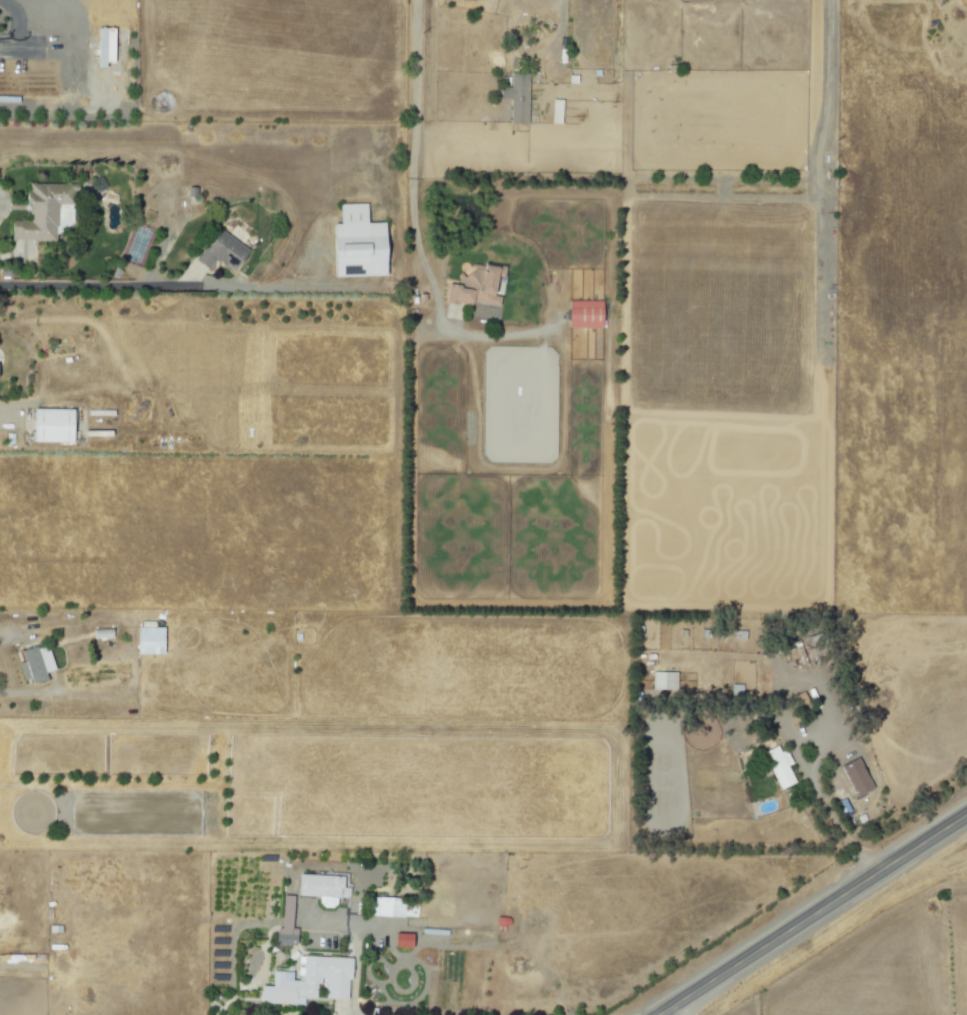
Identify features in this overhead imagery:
road: (555, 19)
road: (830, 23)
building: (103, 46)
road: (70, 56)
building: (515, 98)
building: (38, 212)
road: (413, 220)
building: (354, 243)
building: (219, 252)
road: (189, 284)
building: (473, 287)
building: (583, 314)
building: (50, 426)
building: (101, 634)
building: (147, 641)
building: (34, 664)
building: (662, 681)
road: (34, 690)
building: (778, 766)
building: (854, 777)
road: (827, 812)
building: (321, 888)
building: (391, 908)
road: (813, 915)
building: (284, 924)
building: (401, 939)
building: (306, 981)
road: (344, 1008)

